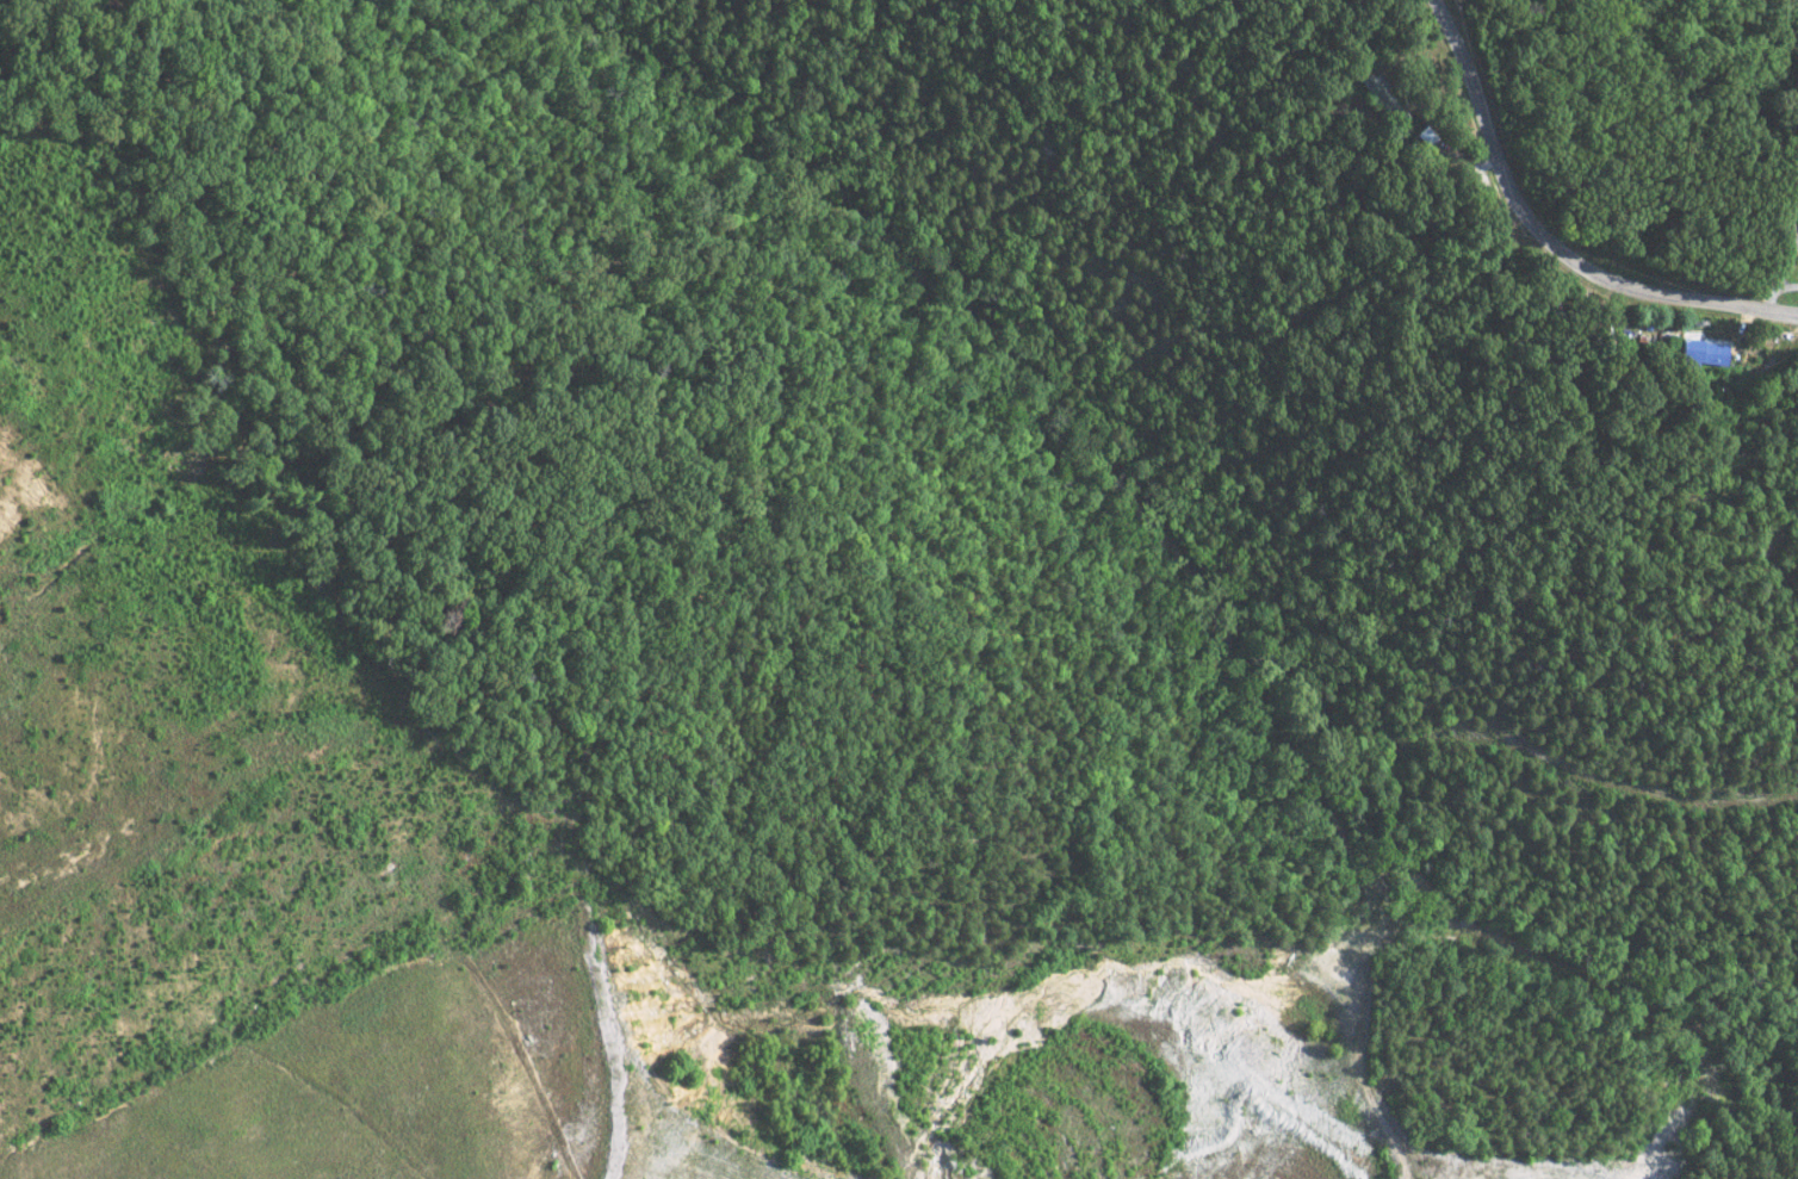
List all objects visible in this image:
road: (1550, 236)
building: (1697, 354)
quarry: (789, 1074)
road: (1400, 1162)

